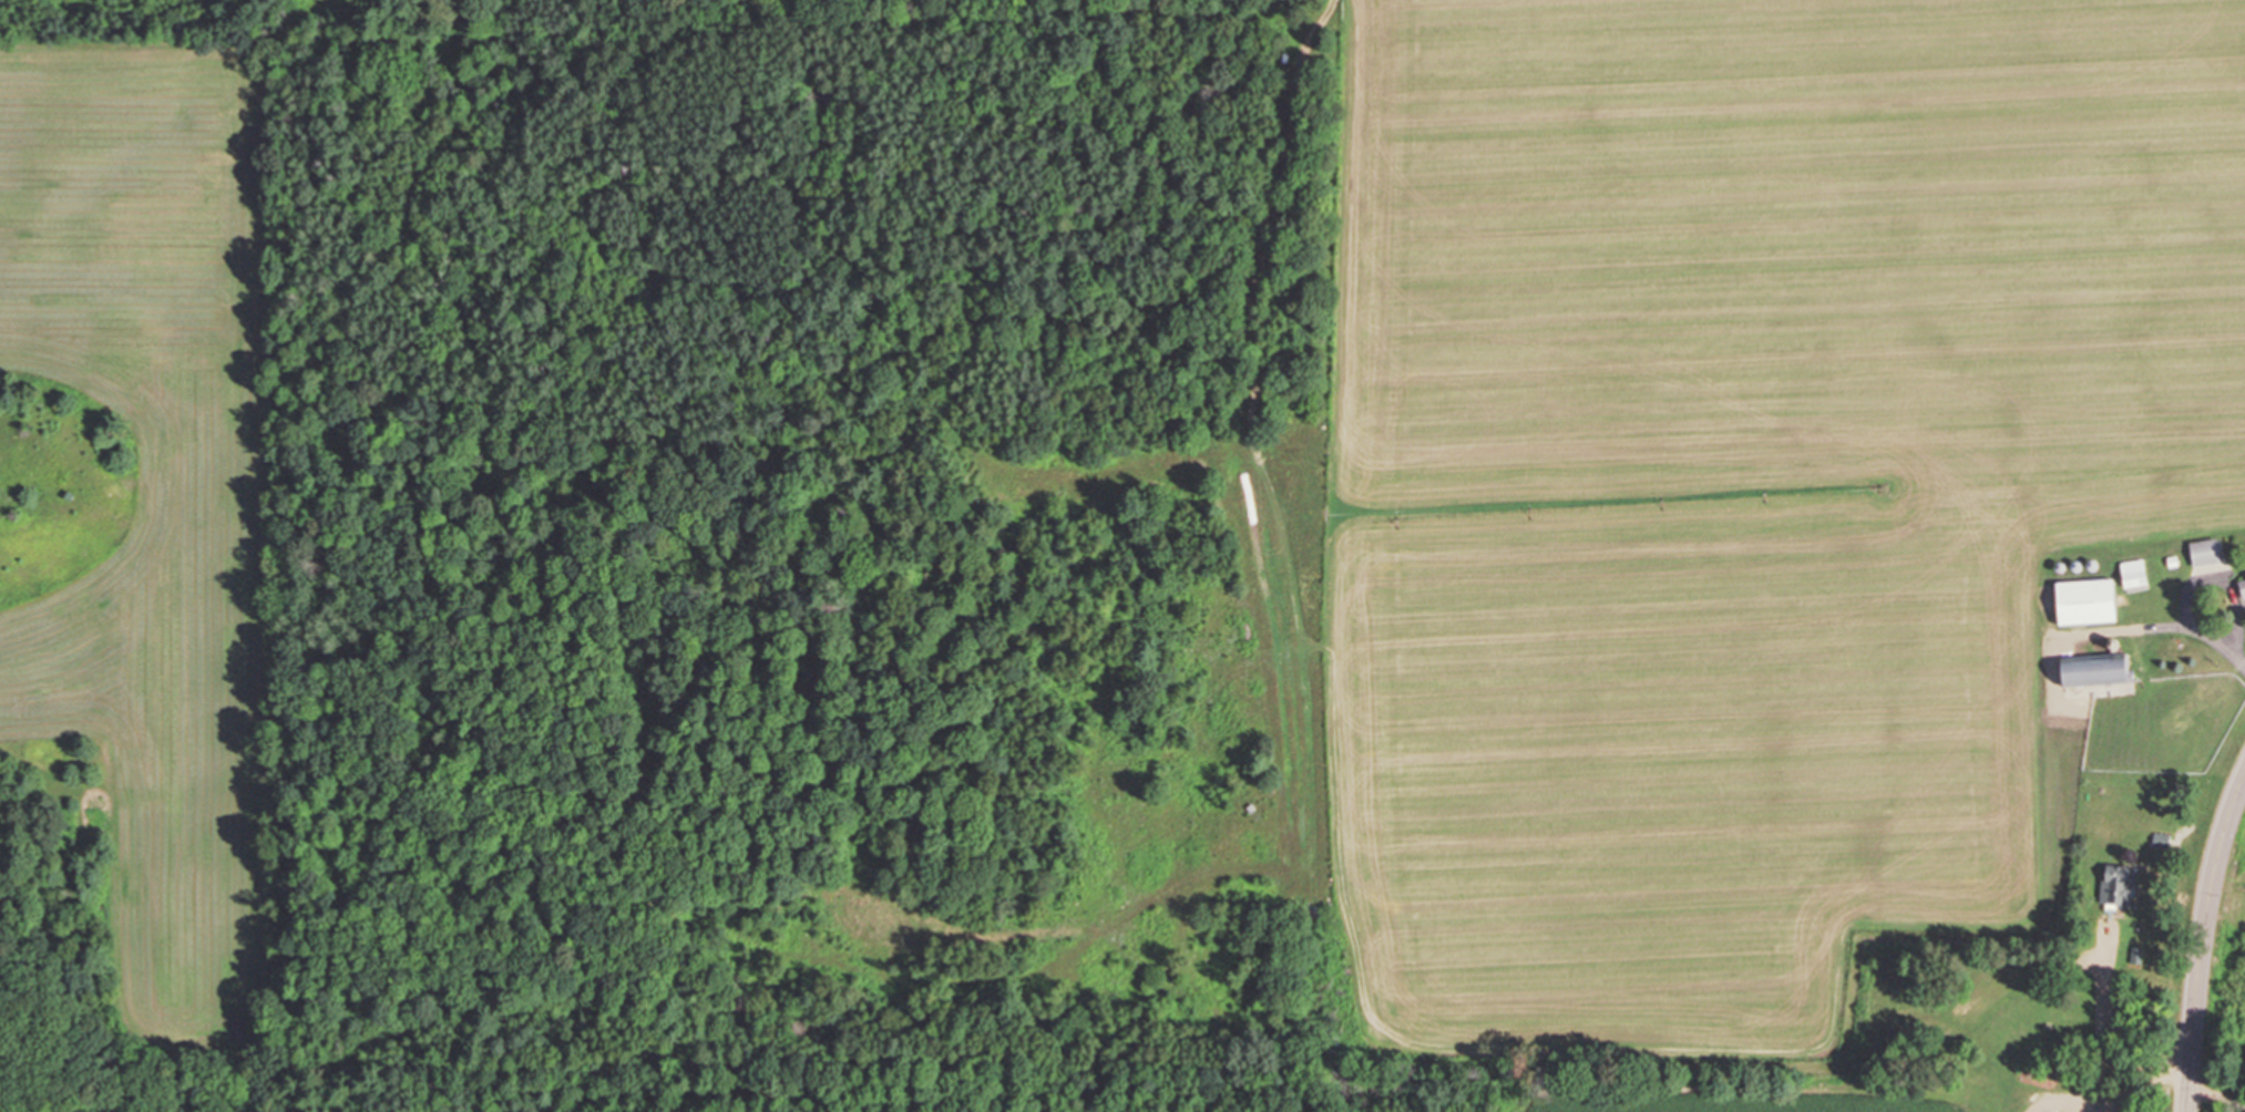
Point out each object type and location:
building: (2202, 552)
building: (2130, 574)
building: (2241, 588)
building: (2081, 603)
building: (2089, 672)
building: (2157, 841)
building: (2115, 886)
road: (2202, 941)

